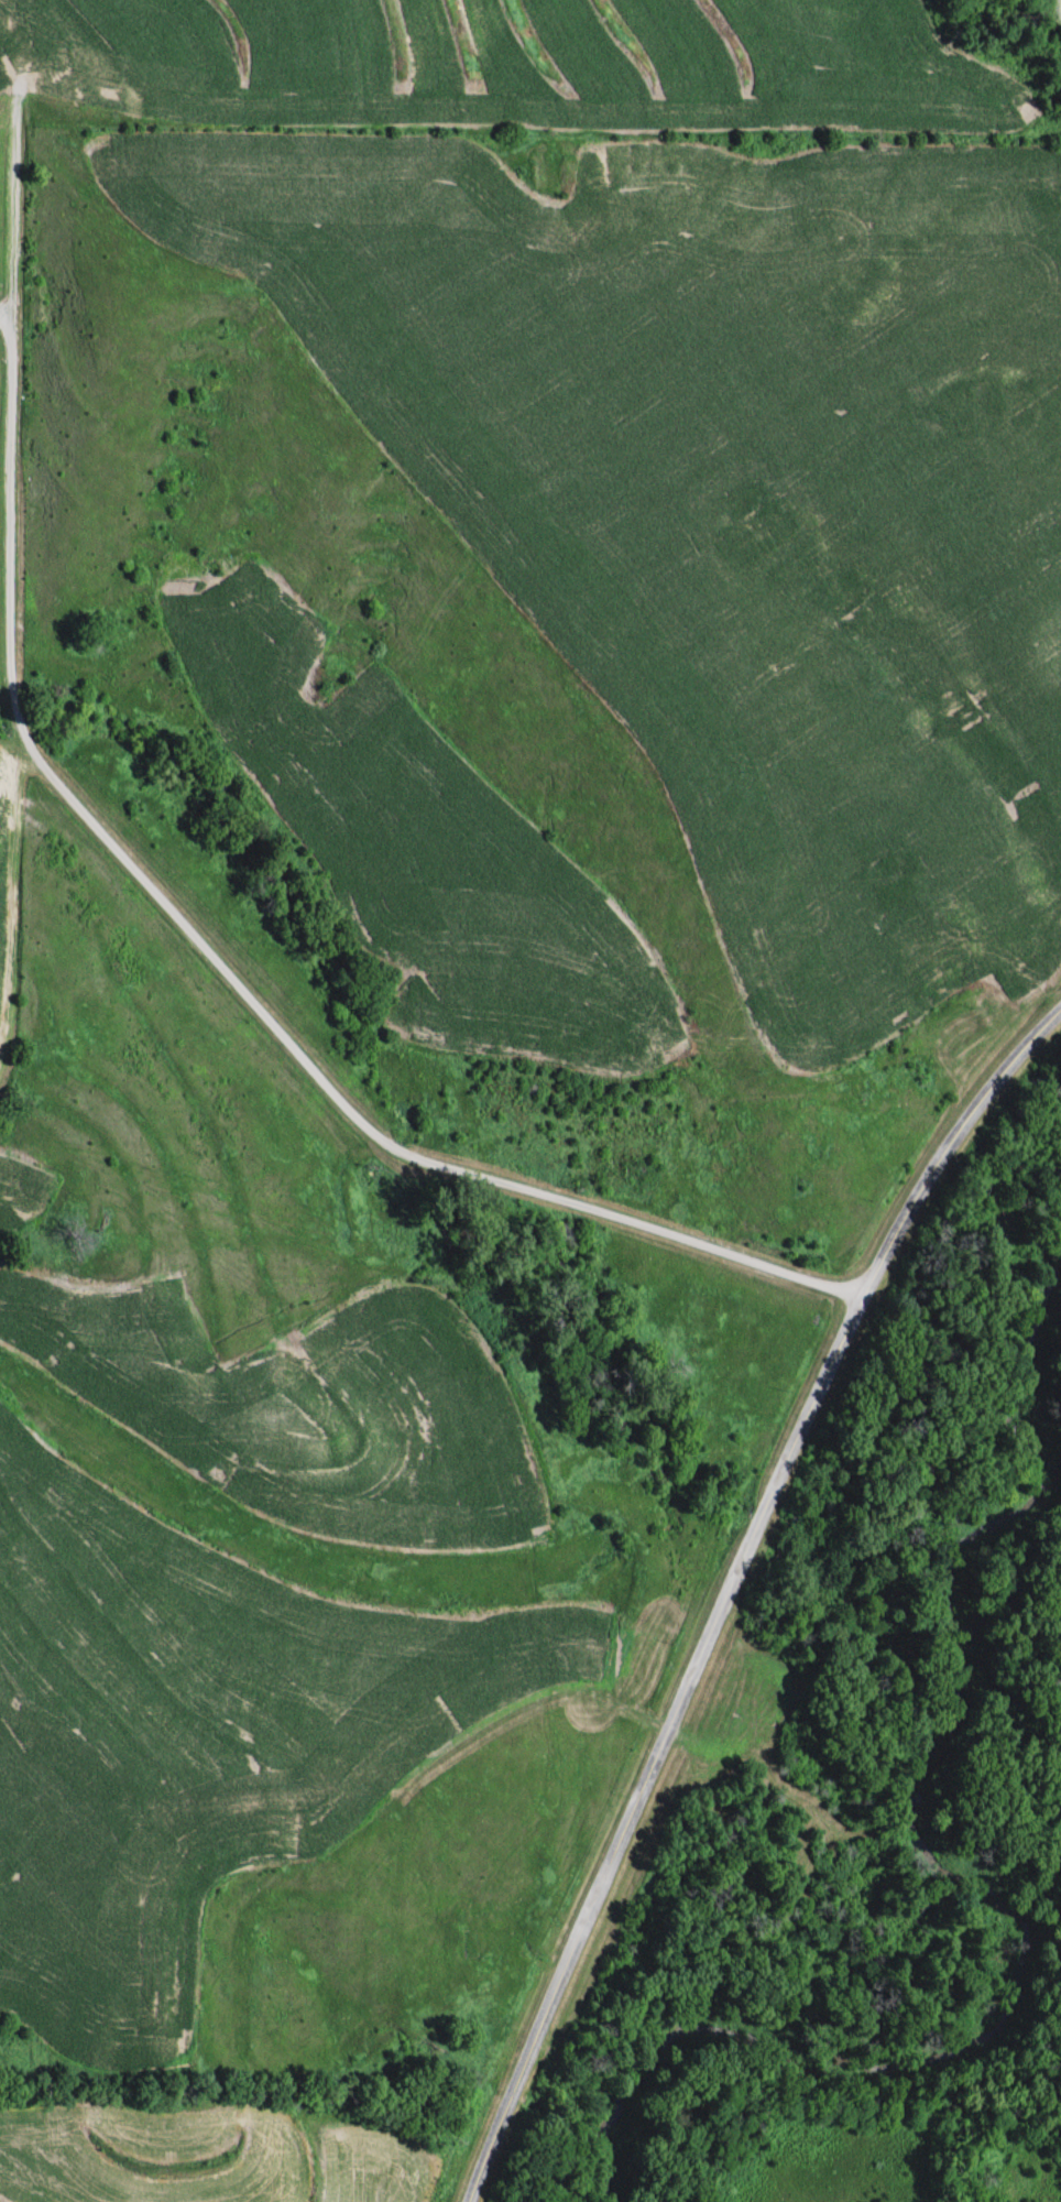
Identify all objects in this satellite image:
road: (728, 1581)

